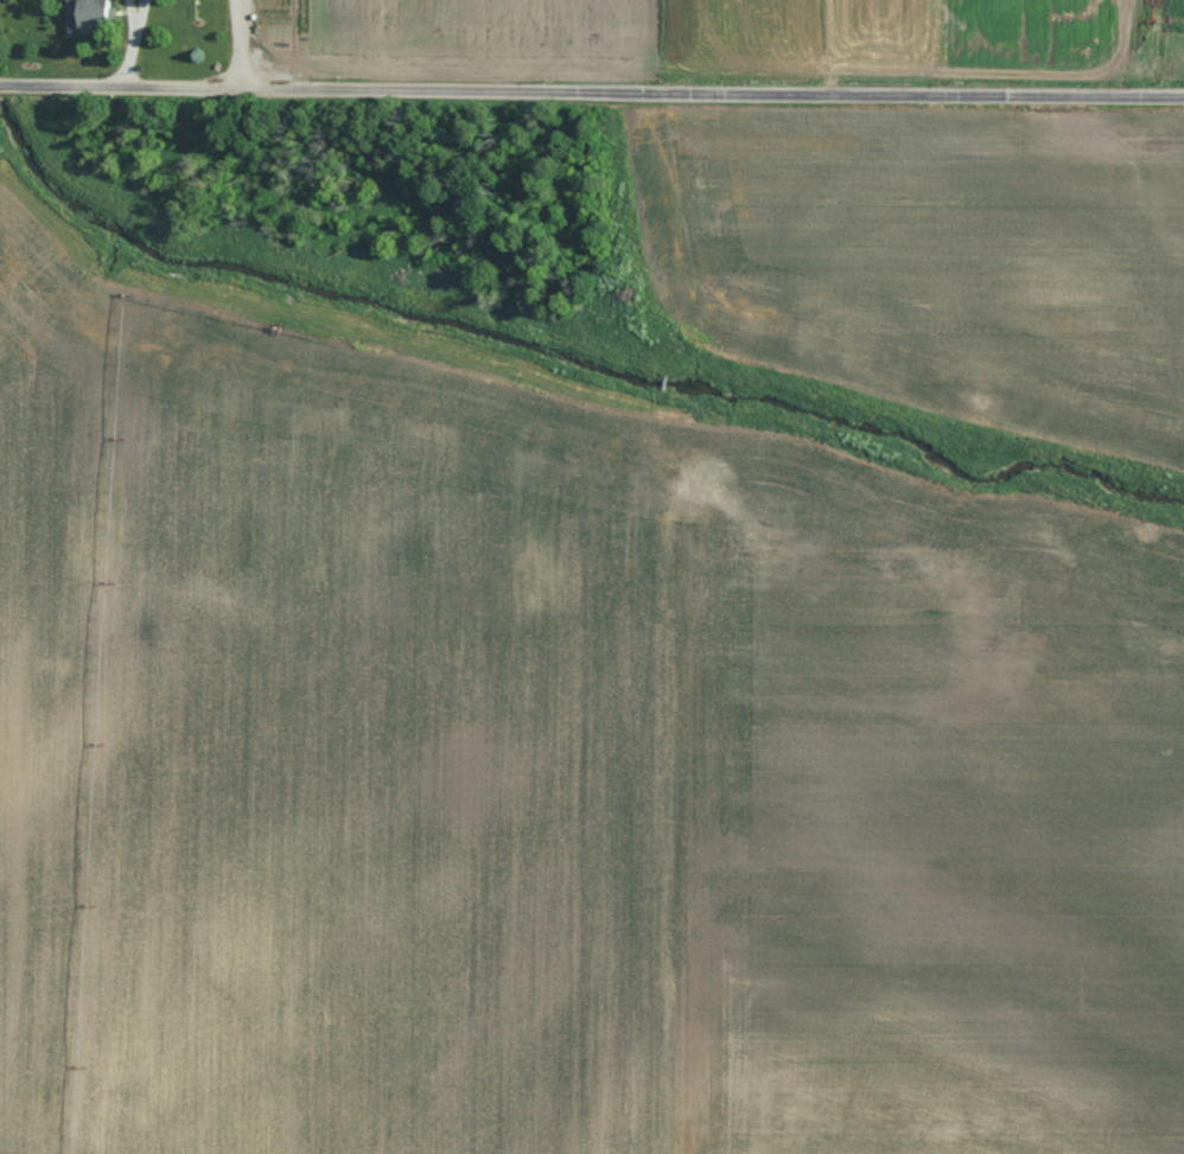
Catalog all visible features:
building: (82, 15)
road: (128, 40)
road: (231, 43)
road: (591, 88)

